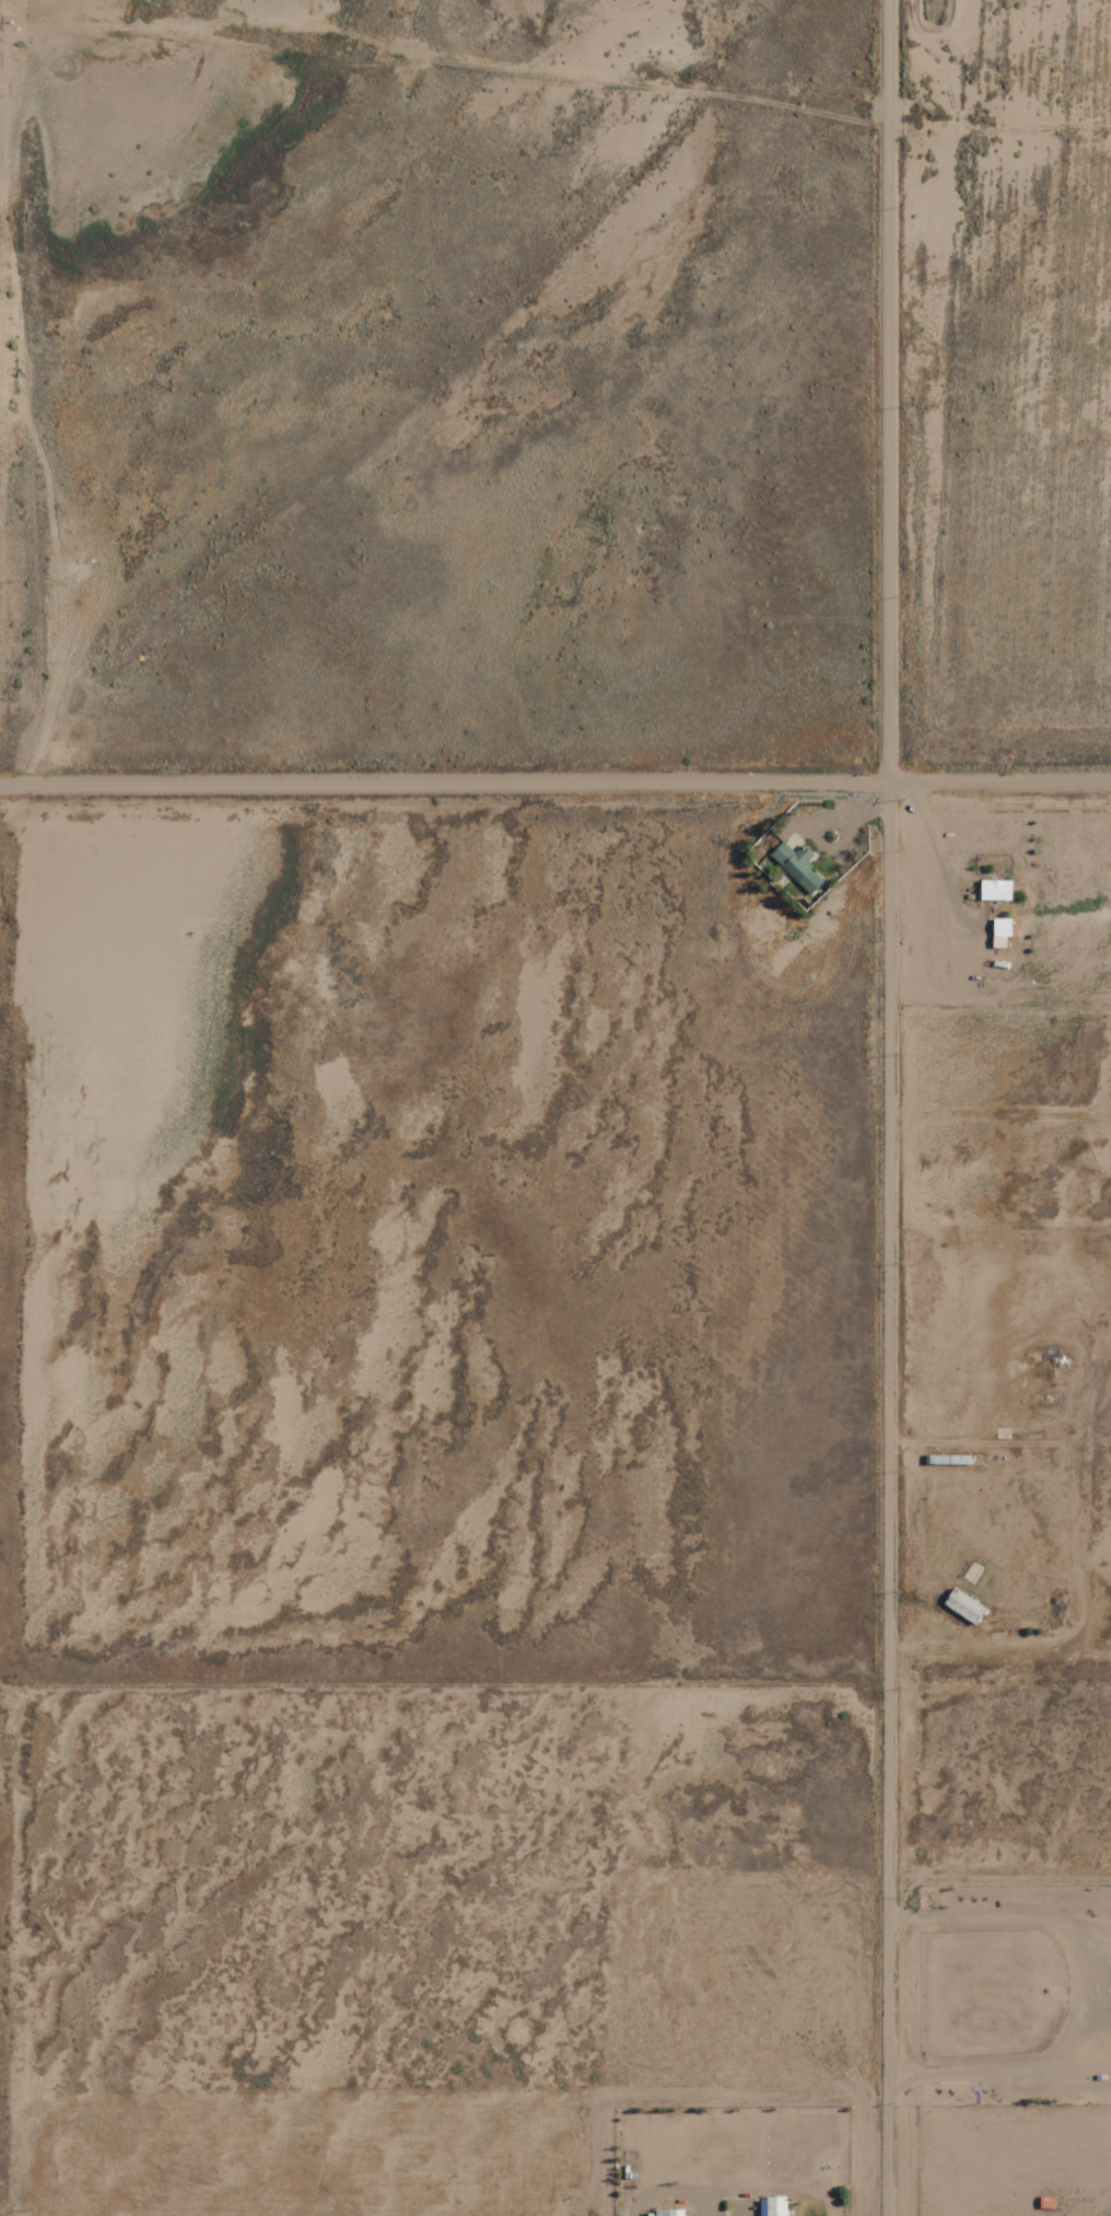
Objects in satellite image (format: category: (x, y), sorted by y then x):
road: (555, 766)
building: (798, 866)
building: (997, 890)
road: (859, 1107)
building: (967, 1606)
road: (133, 1740)
building: (669, 2213)

